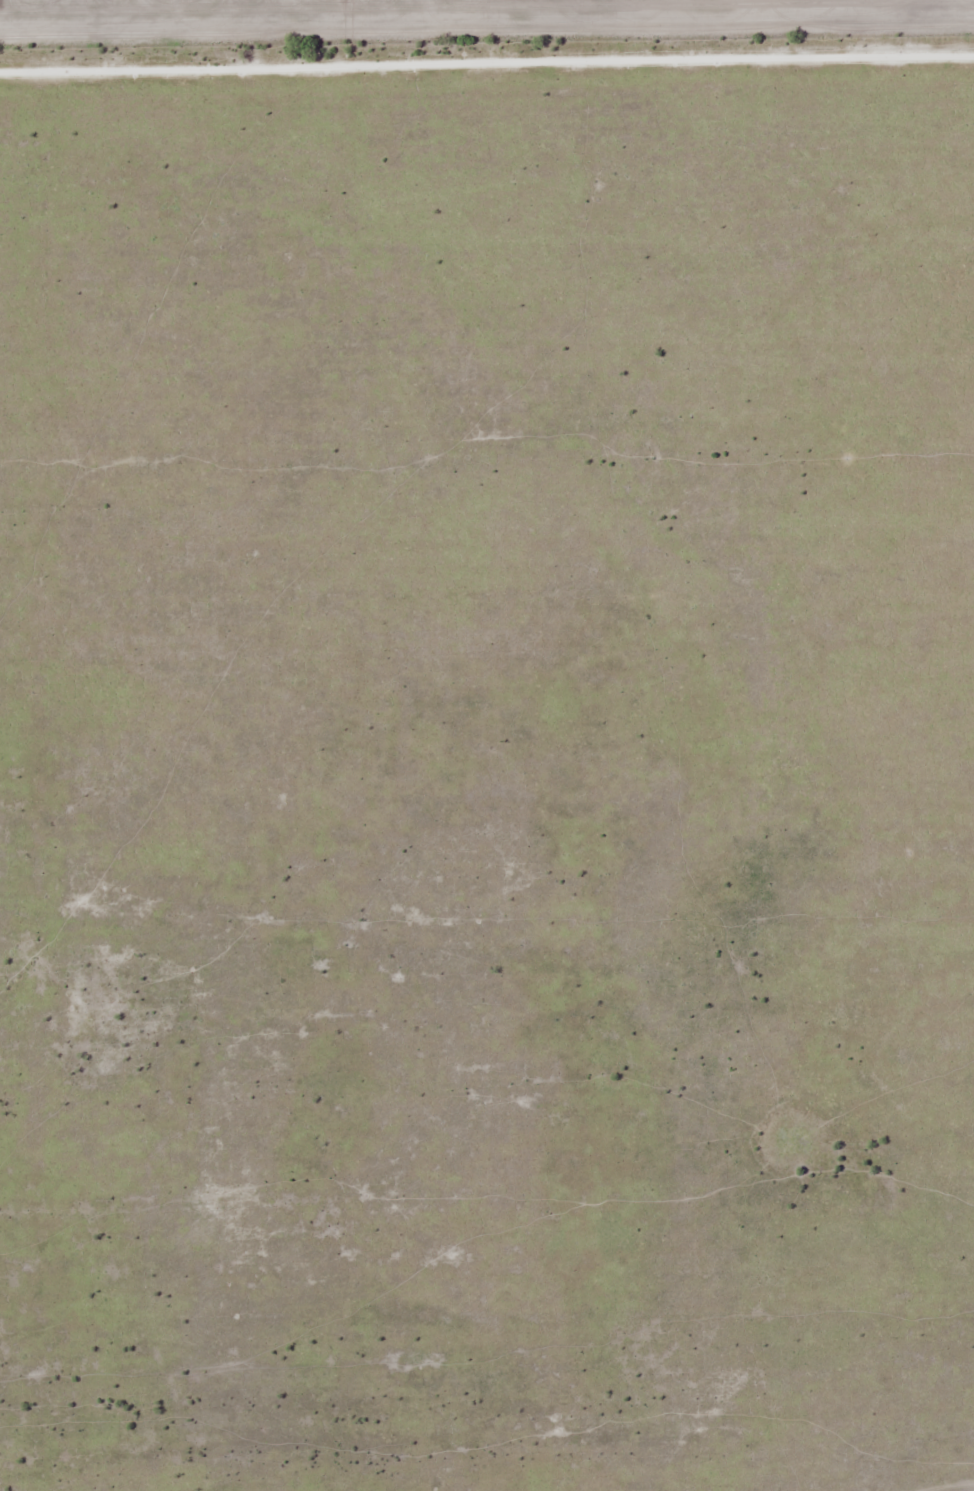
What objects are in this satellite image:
road: (486, 68)

